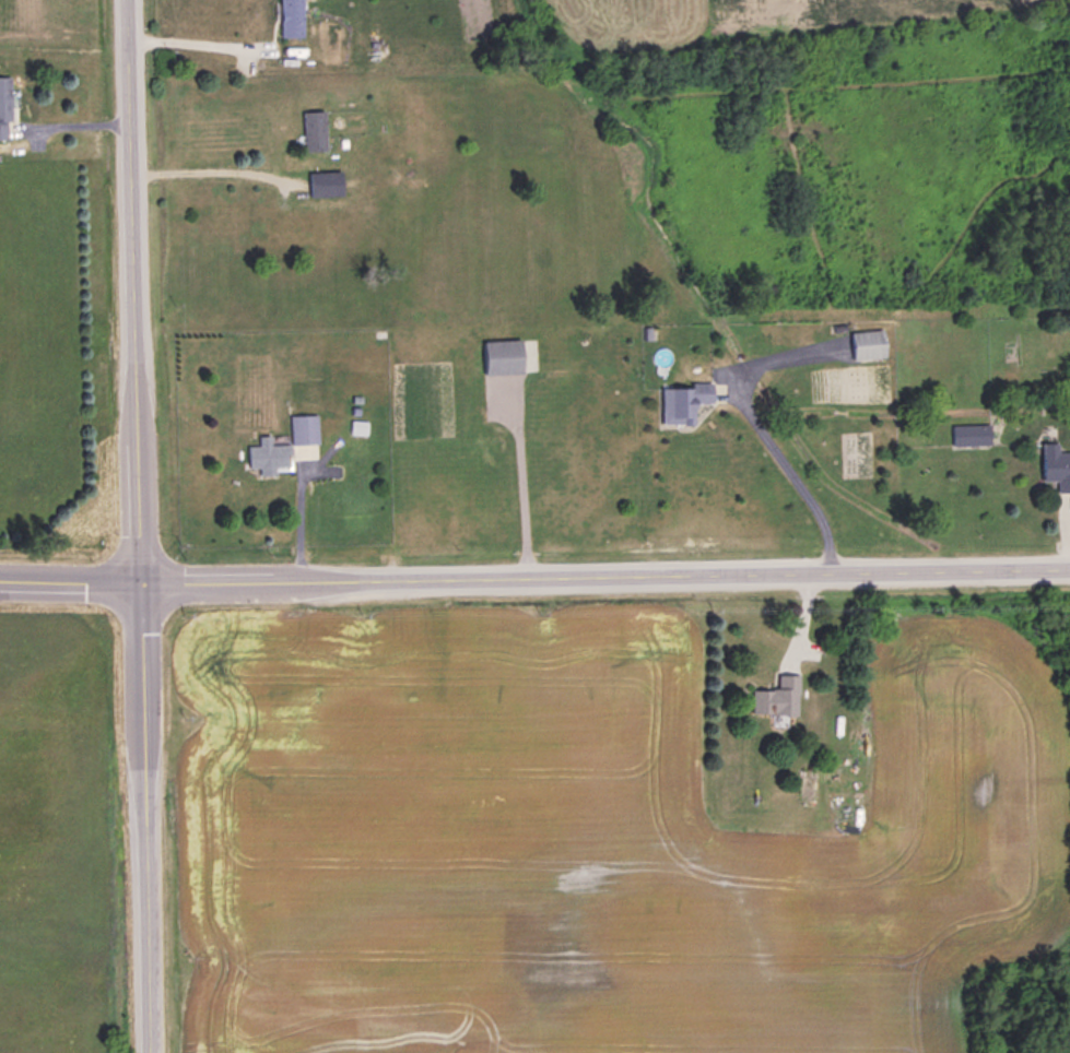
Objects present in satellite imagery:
building: (294, 17)
building: (7, 106)
building: (316, 128)
road: (211, 167)
building: (327, 181)
building: (870, 343)
building: (506, 355)
building: (685, 400)
building: (972, 433)
building: (287, 443)
building: (1056, 464)
road: (788, 474)
road: (142, 525)
road: (534, 572)
building: (779, 695)

